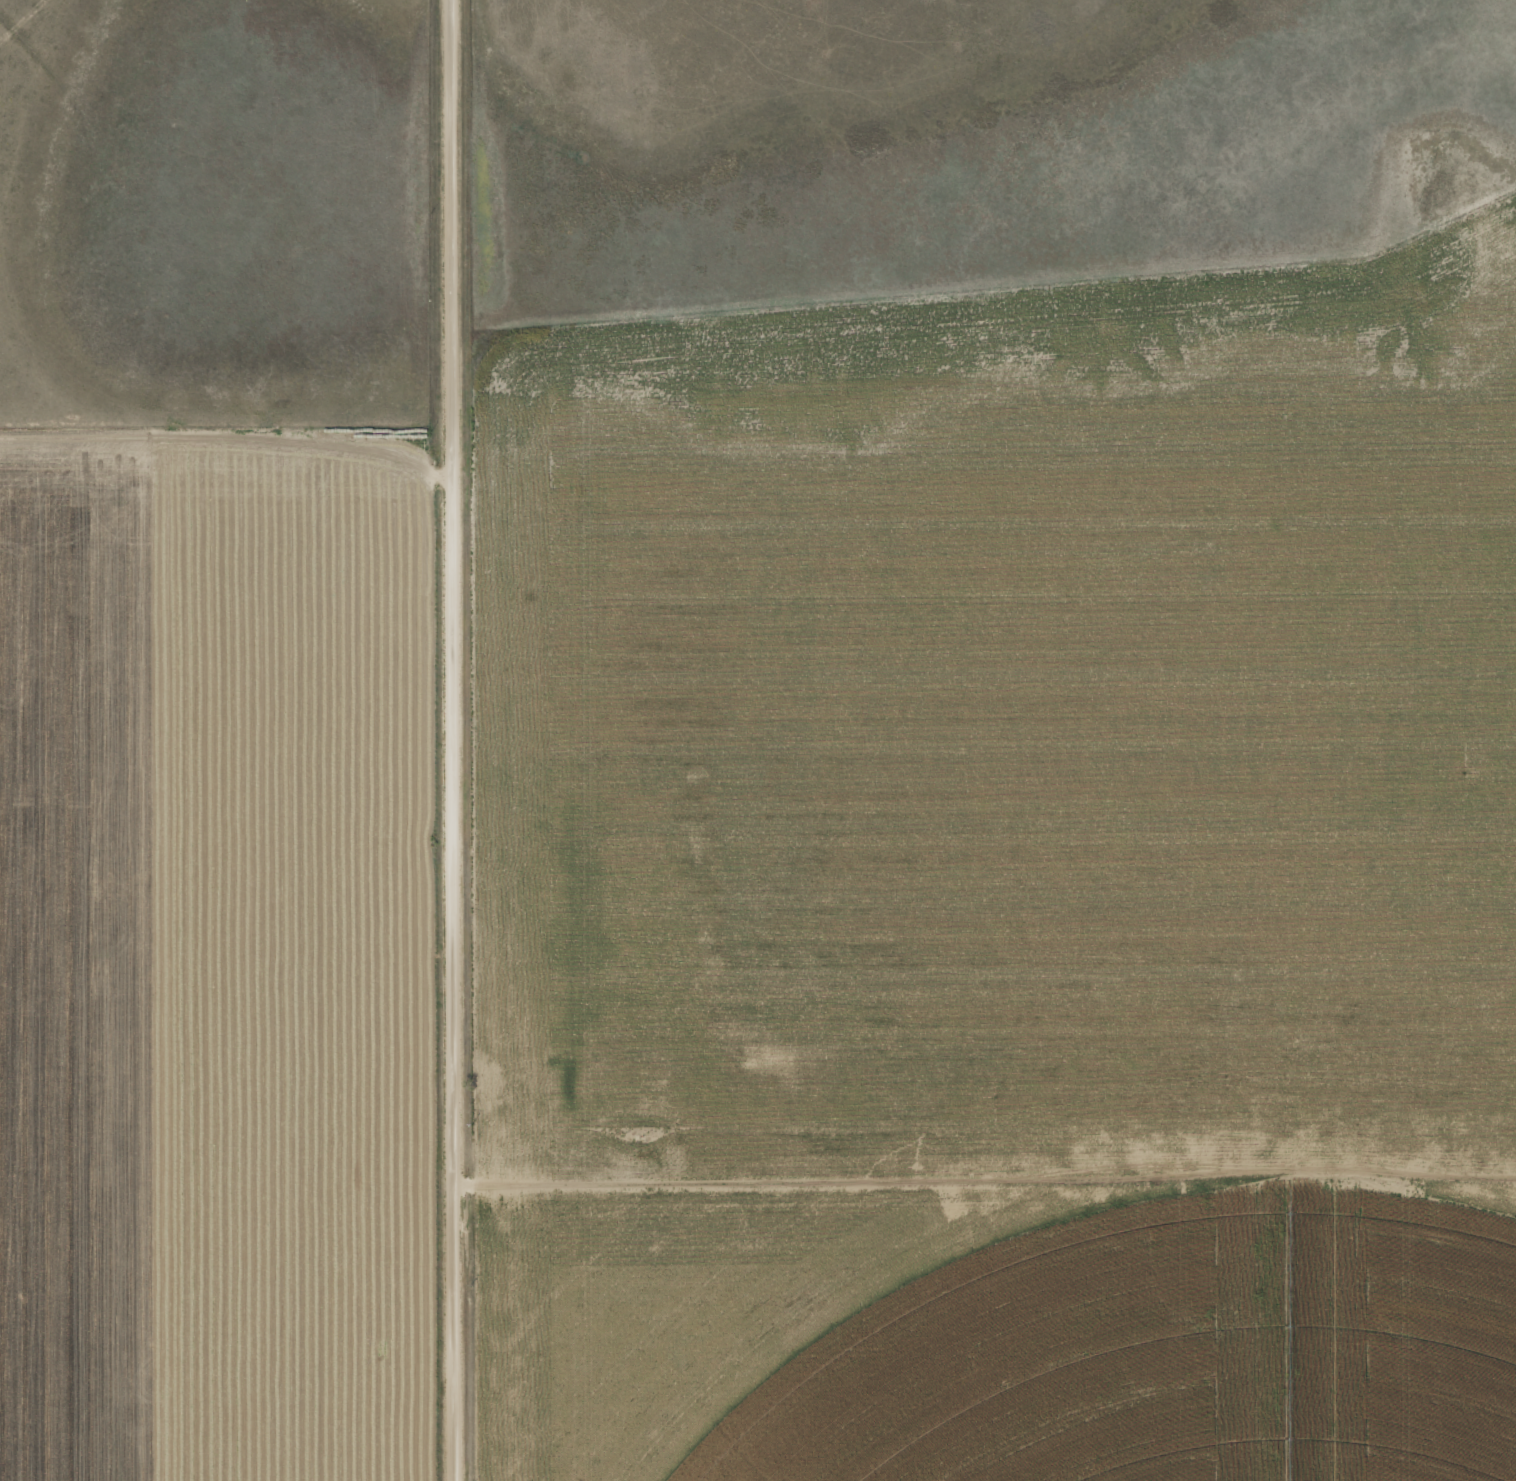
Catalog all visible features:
road: (457, 740)

